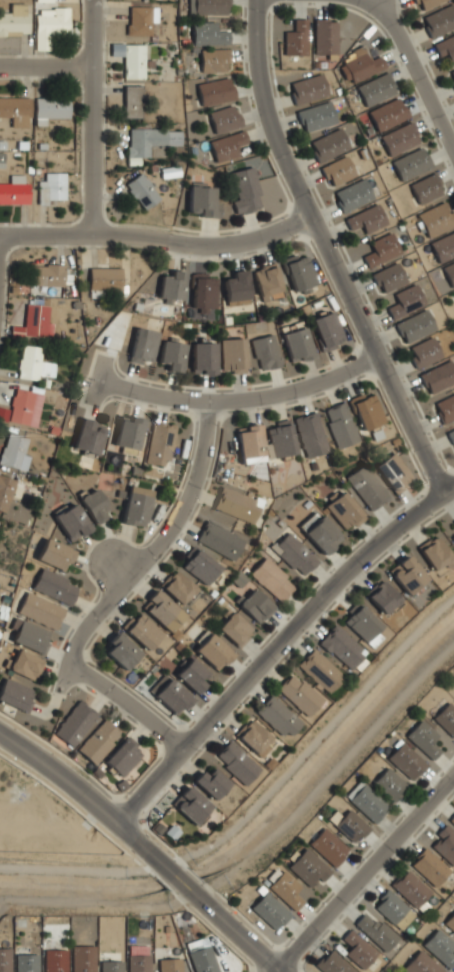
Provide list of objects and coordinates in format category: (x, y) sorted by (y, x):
building: (42, 0)
building: (424, 4)
building: (209, 7)
building: (14, 19)
building: (438, 19)
building: (139, 20)
building: (48, 25)
building: (206, 33)
building: (323, 36)
building: (294, 38)
building: (445, 49)
building: (129, 58)
building: (212, 60)
road: (46, 64)
building: (359, 67)
road: (415, 71)
building: (451, 75)
building: (306, 88)
building: (375, 88)
building: (214, 91)
building: (131, 100)
building: (48, 108)
building: (15, 110)
building: (387, 114)
building: (314, 115)
road: (92, 116)
building: (223, 117)
building: (399, 138)
building: (149, 140)
building: (327, 144)
building: (225, 145)
building: (410, 163)
building: (336, 170)
building: (50, 188)
building: (425, 188)
building: (14, 189)
building: (243, 189)
building: (140, 190)
building: (350, 195)
building: (201, 202)
building: (365, 218)
building: (435, 218)
road: (45, 232)
road: (203, 244)
building: (442, 246)
building: (379, 249)
road: (329, 251)
building: (298, 271)
building: (449, 272)
building: (46, 276)
building: (386, 277)
building: (103, 279)
building: (266, 279)
building: (171, 286)
building: (234, 287)
building: (453, 291)
building: (203, 293)
building: (404, 301)
building: (32, 322)
building: (119, 325)
building: (413, 326)
building: (326, 330)
building: (296, 344)
building: (142, 346)
road: (116, 348)
building: (265, 351)
building: (422, 352)
building: (231, 355)
building: (171, 356)
building: (202, 358)
road: (93, 359)
building: (32, 364)
road: (130, 376)
road: (132, 376)
building: (438, 376)
road: (113, 398)
road: (193, 399)
road: (139, 402)
road: (139, 405)
building: (19, 406)
road: (89, 407)
road: (90, 407)
building: (446, 408)
building: (365, 410)
building: (339, 424)
road: (115, 427)
building: (128, 433)
building: (309, 434)
building: (451, 435)
building: (86, 437)
building: (280, 440)
building: (159, 444)
building: (248, 444)
building: (12, 450)
building: (38, 472)
building: (392, 472)
building: (367, 487)
building: (5, 492)
building: (235, 504)
building: (94, 506)
building: (134, 506)
building: (343, 511)
building: (70, 521)
building: (453, 521)
building: (319, 533)
building: (452, 537)
building: (218, 540)
road: (160, 541)
building: (435, 553)
building: (53, 554)
building: (294, 554)
building: (199, 566)
building: (406, 574)
building: (271, 579)
building: (53, 587)
building: (177, 589)
building: (382, 597)
building: (254, 606)
building: (39, 610)
building: (161, 611)
building: (363, 625)
building: (233, 628)
building: (141, 632)
building: (29, 636)
road: (278, 645)
building: (341, 646)
building: (212, 651)
building: (119, 652)
road: (57, 655)
building: (26, 665)
road: (54, 670)
building: (319, 671)
building: (192, 675)
road: (57, 693)
building: (15, 694)
building: (298, 694)
building: (170, 696)
road: (99, 698)
road: (125, 703)
road: (118, 712)
building: (278, 716)
building: (446, 718)
building: (74, 724)
road: (140, 729)
building: (254, 737)
road: (169, 738)
building: (422, 738)
building: (98, 742)
building: (122, 756)
building: (406, 761)
building: (236, 762)
road: (60, 775)
road: (93, 778)
building: (210, 782)
building: (389, 784)
road: (259, 801)
building: (366, 801)
building: (191, 805)
road: (73, 807)
road: (127, 810)
building: (452, 819)
building: (349, 825)
road: (142, 843)
building: (444, 844)
building: (327, 846)
road: (178, 859)
building: (308, 867)
building: (428, 867)
road: (147, 870)
road: (365, 874)
road: (175, 876)
building: (283, 887)
building: (409, 888)
building: (388, 907)
building: (269, 911)
building: (450, 921)
road: (230, 929)
building: (374, 931)
building: (439, 947)
building: (357, 950)
building: (81, 958)
building: (4, 960)
building: (201, 960)
building: (53, 961)
building: (25, 963)
building: (137, 963)
building: (330, 963)
building: (419, 964)
building: (169, 965)
building: (109, 966)

